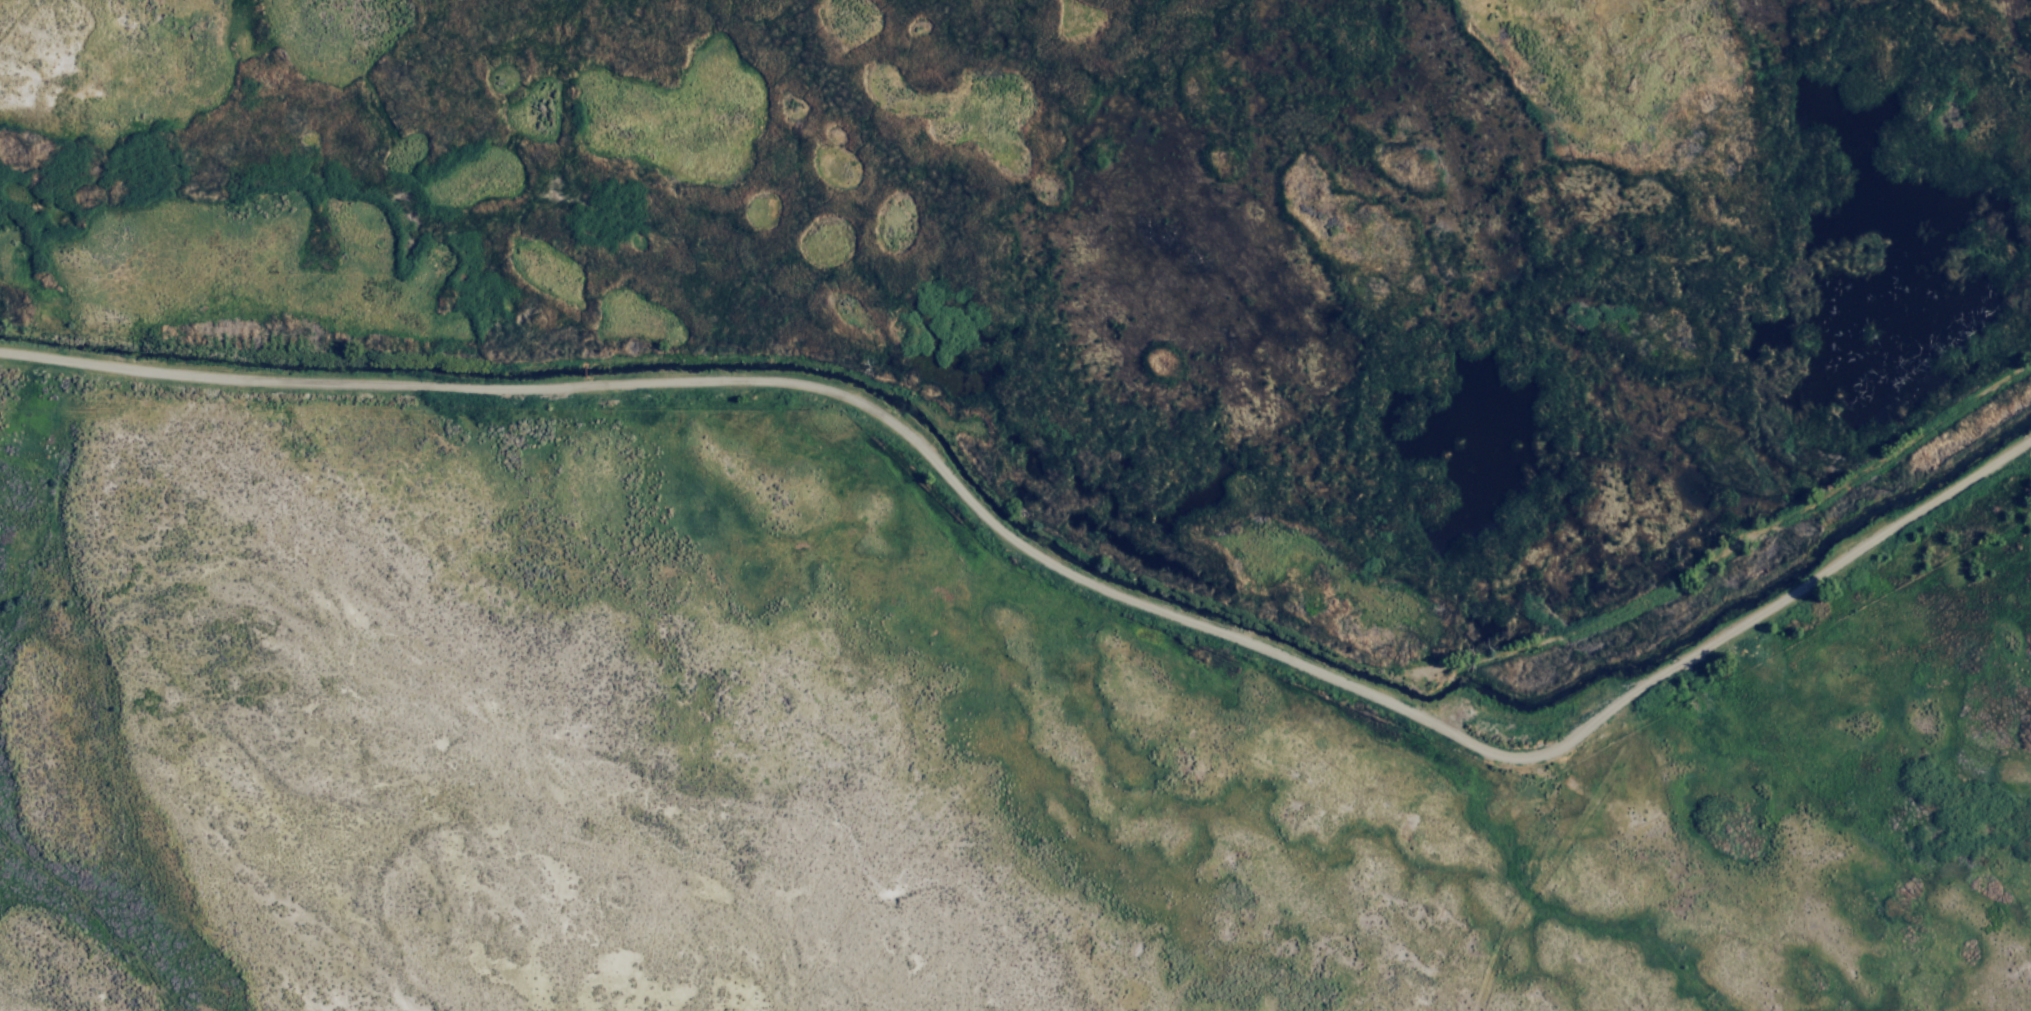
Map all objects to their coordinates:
road: (1048, 564)

